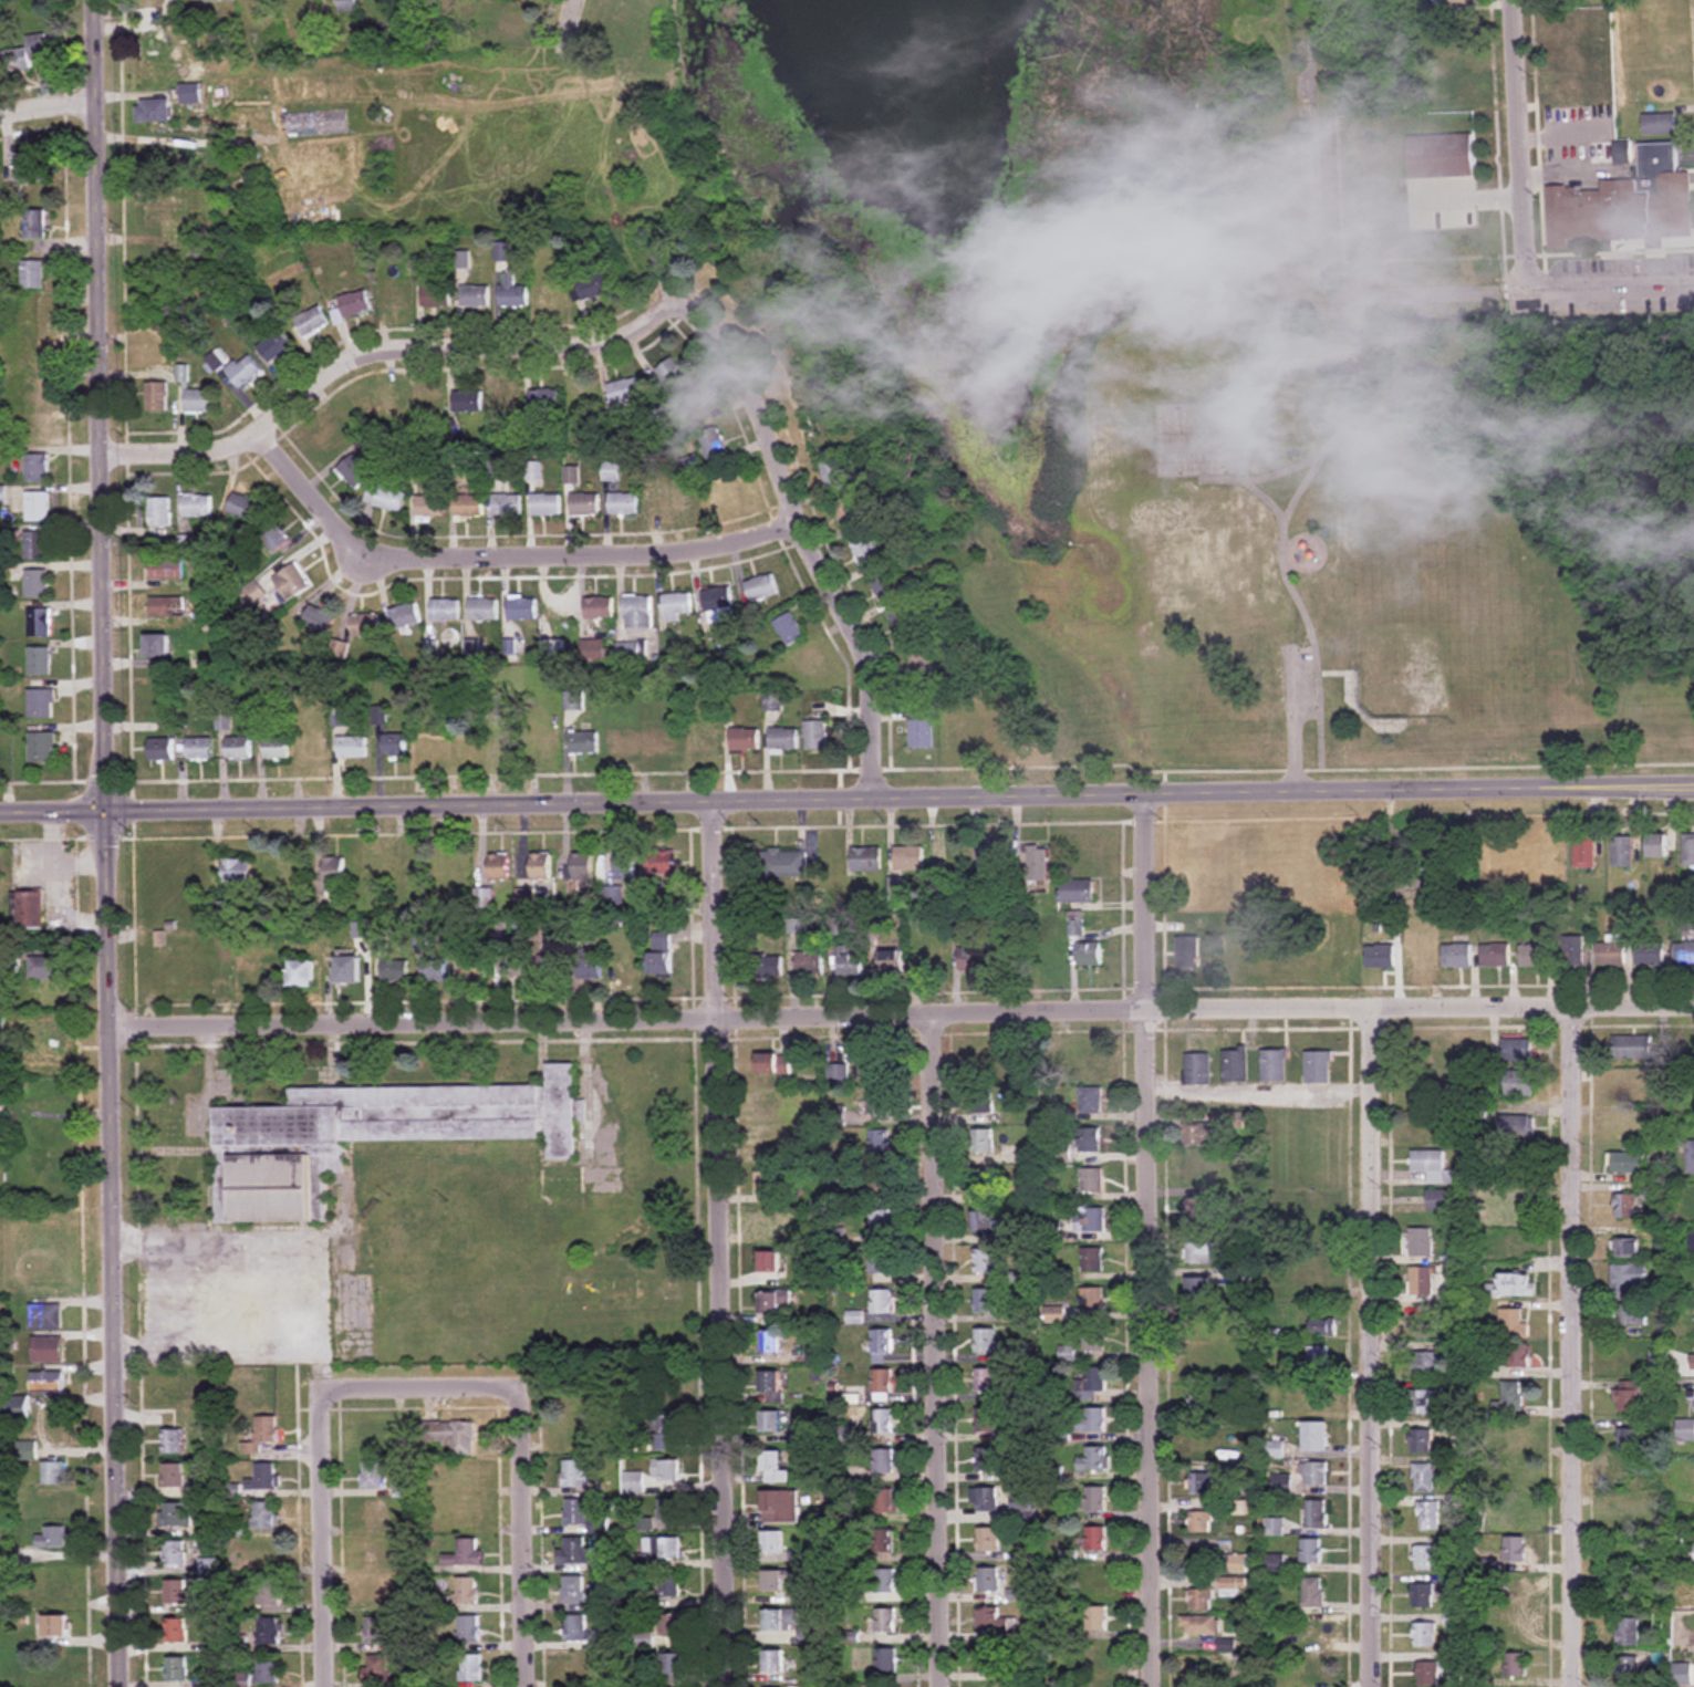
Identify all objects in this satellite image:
park: (10, 0)
building: (214, 0)
building: (1454, 1)
building: (157, 2)
building: (347, 4)
road: (573, 23)
building: (27, 54)
building: (1663, 58)
building: (1660, 91)
building: (190, 93)
road: (45, 110)
building: (153, 111)
building: (1659, 125)
road: (1560, 131)
road: (1317, 144)
road: (1519, 146)
building: (1622, 153)
building: (165, 156)
building: (1441, 156)
road: (1563, 170)
building: (30, 171)
building: (1625, 205)
building: (159, 214)
building: (35, 225)
building: (158, 257)
building: (33, 274)
building: (594, 287)
building: (512, 291)
building: (552, 291)
road: (1511, 292)
building: (475, 296)
building: (393, 298)
building: (436, 298)
building: (355, 303)
building: (37, 313)
building: (313, 322)
building: (276, 346)
building: (37, 353)
road: (384, 353)
building: (245, 372)
building: (184, 374)
building: (673, 376)
building: (35, 390)
park: (1167, 390)
building: (624, 392)
building: (157, 397)
building: (584, 398)
building: (544, 399)
building: (199, 402)
building: (467, 402)
building: (506, 402)
building: (429, 403)
building: (696, 408)
building: (35, 429)
building: (331, 437)
building: (713, 444)
building: (693, 466)
building: (39, 469)
building: (499, 469)
building: (533, 470)
building: (353, 472)
building: (833, 475)
building: (3, 496)
building: (385, 498)
road: (792, 498)
building: (665, 500)
building: (623, 503)
building: (545, 504)
building: (584, 504)
building: (507, 506)
building: (39, 507)
building: (197, 507)
building: (430, 507)
building: (468, 507)
building: (242, 508)
building: (160, 512)
building: (849, 513)
building: (273, 535)
building: (37, 545)
building: (867, 552)
road: (505, 556)
building: (166, 569)
building: (291, 582)
building: (38, 583)
building: (885, 587)
building: (761, 589)
building: (717, 600)
building: (167, 607)
building: (676, 607)
building: (597, 608)
building: (445, 610)
building: (482, 610)
building: (521, 610)
building: (637, 612)
building: (404, 616)
building: (318, 621)
building: (903, 621)
building: (41, 623)
building: (365, 625)
building: (790, 629)
building: (158, 646)
building: (628, 652)
building: (41, 662)
building: (809, 664)
building: (919, 668)
building: (573, 701)
building: (42, 704)
building: (647, 712)
building: (922, 730)
building: (994, 732)
building: (817, 736)
building: (957, 736)
building: (784, 740)
building: (549, 741)
building: (707, 741)
building: (746, 741)
building: (583, 742)
building: (622, 742)
building: (661, 742)
building: (395, 744)
building: (433, 744)
building: (505, 744)
building: (42, 748)
building: (352, 748)
building: (162, 749)
building: (199, 749)
building: (239, 749)
building: (277, 749)
road: (846, 799)
road: (104, 843)
building: (1660, 845)
building: (1688, 850)
building: (1586, 851)
building: (1624, 852)
building: (952, 857)
building: (993, 857)
building: (867, 858)
building: (910, 858)
building: (662, 863)
building: (783, 864)
building: (1039, 864)
building: (625, 865)
building: (541, 866)
building: (582, 866)
building: (499, 867)
building: (458, 868)
building: (238, 871)
building: (334, 871)
building: (370, 871)
building: (413, 874)
building: (269, 875)
building: (979, 884)
building: (1077, 892)
building: (294, 894)
building: (526, 897)
building: (361, 904)
building: (31, 910)
building: (1077, 926)
building: (537, 929)
building: (382, 943)
building: (924, 945)
building: (1575, 951)
building: (659, 954)
building: (1612, 954)
building: (1684, 954)
building: (1012, 955)
building: (1090, 955)
building: (1188, 955)
building: (1420, 955)
building: (1496, 955)
building: (1651, 955)
building: (973, 956)
building: (1536, 956)
building: (1053, 957)
building: (1381, 957)
building: (1457, 957)
building: (851, 960)
building: (891, 961)
building: (809, 964)
building: (513, 966)
building: (591, 966)
building: (551, 967)
building: (628, 967)
building: (45, 968)
building: (475, 968)
building: (769, 968)
building: (347, 970)
building: (395, 970)
building: (435, 970)
building: (266, 975)
building: (302, 975)
road: (902, 1012)
building: (1633, 1048)
building: (1518, 1051)
building: (1093, 1061)
building: (773, 1064)
building: (1235, 1065)
building: (1274, 1065)
building: (1318, 1066)
building: (879, 1068)
building: (981, 1068)
building: (1197, 1069)
building: (838, 1074)
building: (1520, 1083)
building: (1629, 1092)
building: (981, 1101)
building: (1092, 1101)
building: (877, 1102)
building: (767, 1103)
building: (1424, 1126)
building: (1518, 1127)
building: (1628, 1129)
building: (1201, 1135)
building: (358, 1138)
building: (1090, 1139)
building: (983, 1143)
building: (768, 1144)
building: (877, 1147)
building: (1061, 1153)
building: (1692, 1158)
building: (792, 1159)
building: (1629, 1164)
building: (1433, 1166)
building: (1092, 1180)
building: (767, 1183)
building: (879, 1183)
building: (983, 1183)
building: (1311, 1200)
building: (1442, 1201)
building: (1628, 1207)
building: (1518, 1208)
building: (1198, 1209)
building: (1089, 1220)
building: (770, 1222)
building: (879, 1222)
building: (984, 1222)
road: (1147, 1242)
building: (1422, 1243)
road: (717, 1245)
building: (1692, 1245)
building: (1628, 1250)
building: (1199, 1253)
building: (1092, 1260)
building: (769, 1262)
building: (984, 1262)
building: (881, 1263)
building: (1239, 1275)
building: (1313, 1278)
building: (1629, 1280)
building: (1422, 1282)
building: (1514, 1287)
building: (1199, 1290)
road: (312, 1295)
building: (1091, 1299)
building: (881, 1302)
building: (985, 1302)
building: (775, 1303)
building: (1631, 1316)
building: (45, 1318)
building: (1423, 1320)
building: (1514, 1324)
building: (1323, 1327)
building: (1093, 1341)
building: (882, 1342)
building: (987, 1342)
building: (769, 1343)
road: (1581, 1346)
road: (1376, 1347)
road: (937, 1350)
building: (48, 1351)
building: (813, 1352)
building: (1518, 1355)
building: (1203, 1358)
building: (1318, 1358)
building: (1661, 1363)
building: (1425, 1364)
building: (1094, 1381)
building: (985, 1382)
building: (46, 1383)
road: (418, 1386)
building: (882, 1386)
building: (771, 1388)
building: (1628, 1396)
building: (1201, 1397)
building: (1318, 1397)
building: (1510, 1397)
building: (1426, 1403)
building: (1693, 1403)
building: (19, 1409)
building: (1093, 1419)
building: (987, 1422)
building: (770, 1423)
building: (883, 1423)
building: (571, 1427)
building: (1685, 1430)
building: (666, 1431)
building: (1510, 1433)
building: (263, 1435)
building: (450, 1435)
building: (799, 1436)
building: (372, 1437)
building: (1317, 1437)
building: (1629, 1440)
building: (1422, 1441)
building: (173, 1443)
building: (1204, 1444)
building: (27, 1450)
building: (990, 1459)
building: (1094, 1459)
building: (884, 1461)
building: (775, 1469)
building: (666, 1470)
building: (1518, 1471)
building: (54, 1473)
building: (574, 1473)
building: (1314, 1473)
building: (373, 1475)
building: (466, 1475)
building: (174, 1476)
building: (264, 1478)
building: (1424, 1478)
building: (1199, 1482)
building: (634, 1483)
building: (1095, 1499)
building: (988, 1500)
building: (885, 1501)
building: (780, 1507)
building: (671, 1509)
building: (469, 1512)
building: (575, 1512)
building: (1027, 1512)
building: (1508, 1512)
building: (264, 1514)
building: (375, 1514)
building: (1316, 1514)
building: (176, 1516)
building: (1430, 1516)
building: (1632, 1518)
building: (1201, 1522)
building: (599, 1524)
building: (649, 1524)
road: (323, 1537)
road: (523, 1537)
building: (53, 1538)
building: (1097, 1538)
building: (988, 1540)
building: (772, 1542)
building: (884, 1543)
building: (664, 1548)
building: (1515, 1550)
building: (1310, 1551)
building: (575, 1552)
building: (175, 1553)
building: (269, 1553)
building: (374, 1553)
building: (466, 1553)
building: (1425, 1558)
building: (1238, 1563)
building: (1275, 1564)
building: (988, 1579)
building: (1097, 1579)
building: (775, 1581)
building: (885, 1581)
building: (55, 1584)
building: (1233, 1586)
building: (671, 1587)
building: (1518, 1590)
building: (466, 1591)
building: (573, 1591)
building: (177, 1593)
building: (270, 1593)
building: (373, 1593)
building: (1313, 1593)
building: (1422, 1595)
building: (1201, 1600)
building: (1097, 1618)
building: (995, 1620)
building: (783, 1621)
building: (885, 1621)
building: (672, 1625)
building: (1199, 1625)
building: (56, 1626)
building: (1510, 1626)
building: (468, 1628)
building: (576, 1628)
building: (176, 1631)
building: (268, 1631)
building: (375, 1631)
building: (1317, 1632)
building: (1628, 1632)
building: (1424, 1635)
building: (609, 1637)
building: (645, 1641)
building: (1290, 1641)
building: (1098, 1658)
building: (990, 1659)
building: (775, 1662)
building: (886, 1666)
building: (1514, 1666)
building: (471, 1668)
building: (579, 1668)
building: (673, 1668)
building: (176, 1669)
building: (268, 1669)
building: (377, 1669)
building: (1314, 1670)
building: (1628, 1670)
building: (1428, 1674)
building: (1681, 1674)
building: (1201, 1676)
building: (59, 1683)
building: (1098, 1686)

